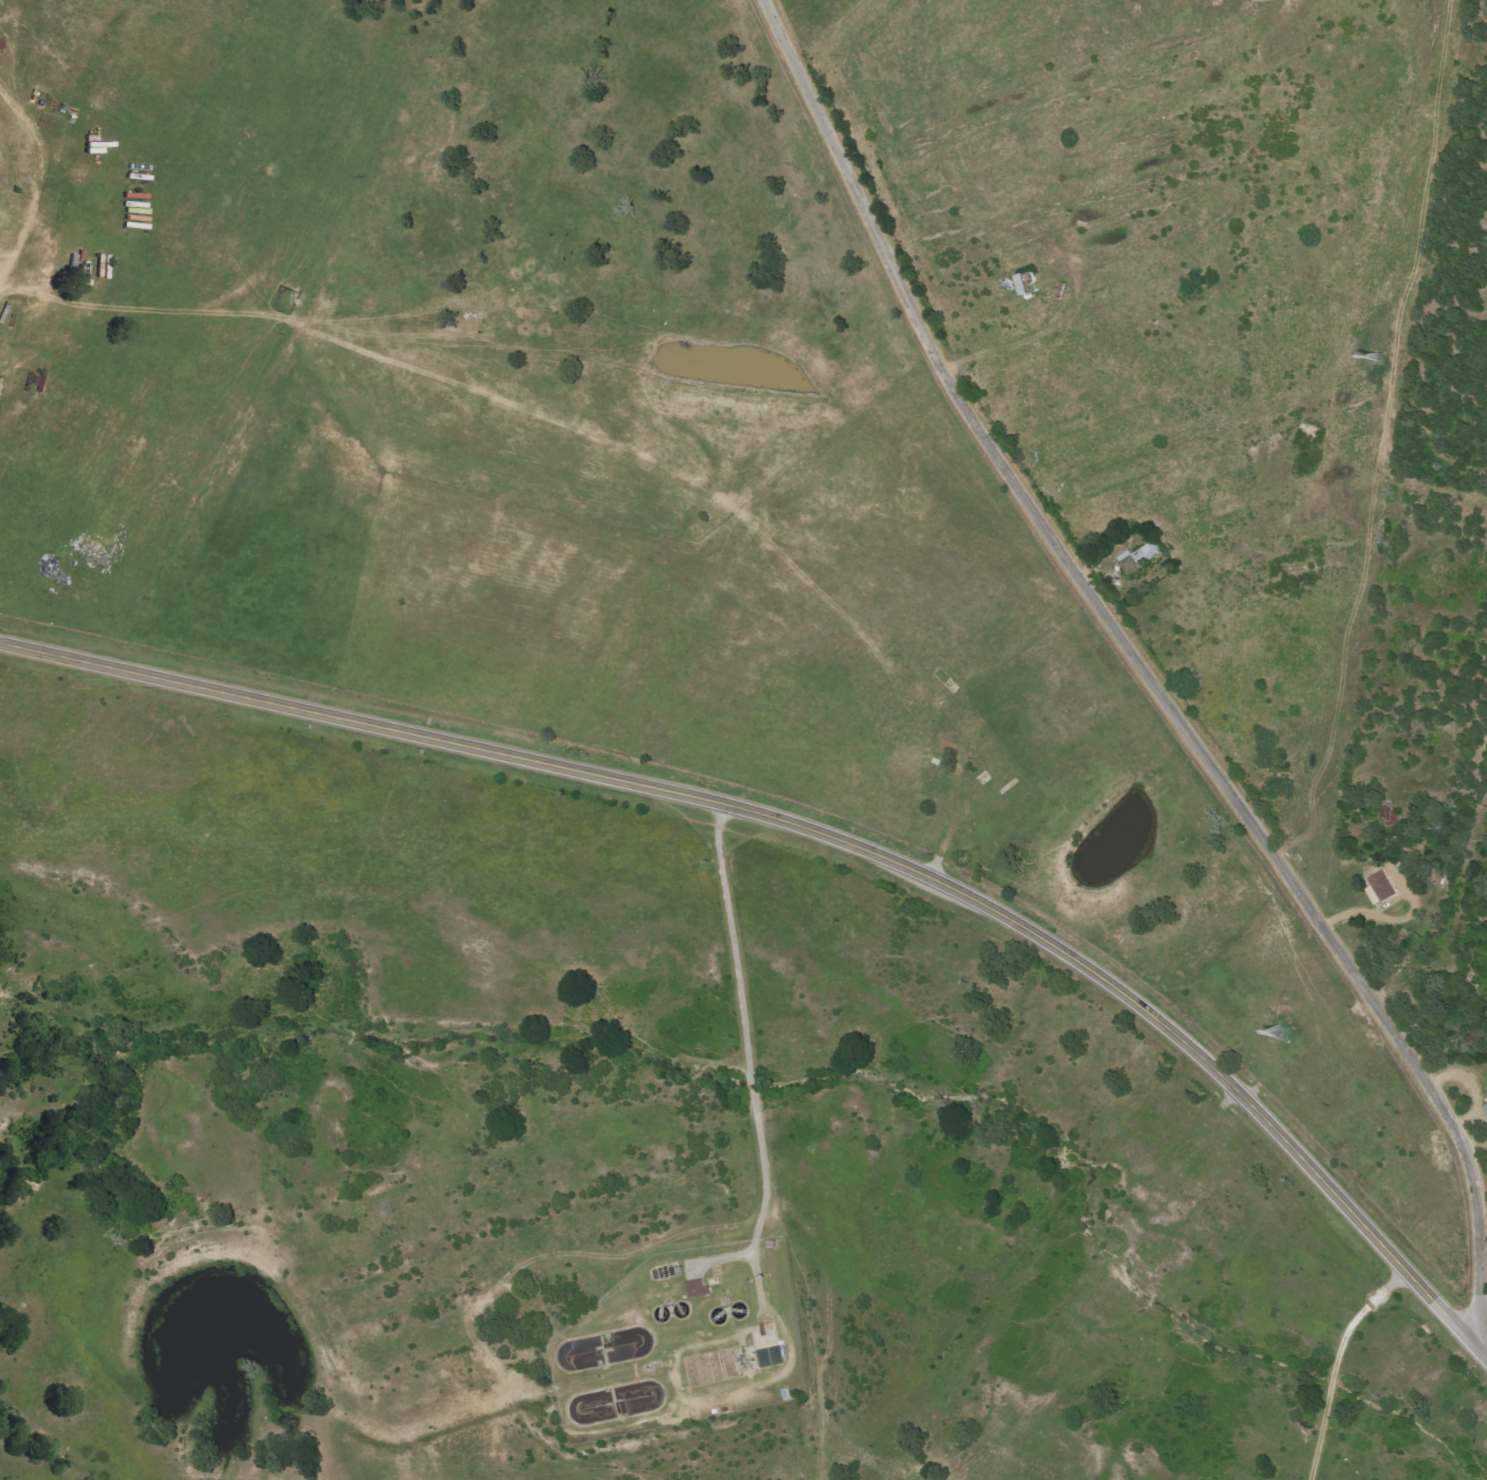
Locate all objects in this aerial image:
road: (35, 177)
power tower: (1378, 358)
road: (1145, 674)
road: (828, 838)
building: (1383, 888)
road: (1451, 1023)
road: (743, 1031)
power tower: (1283, 1034)
building: (1486, 1107)
road: (1480, 1175)
building: (700, 1289)
road: (1332, 1363)

